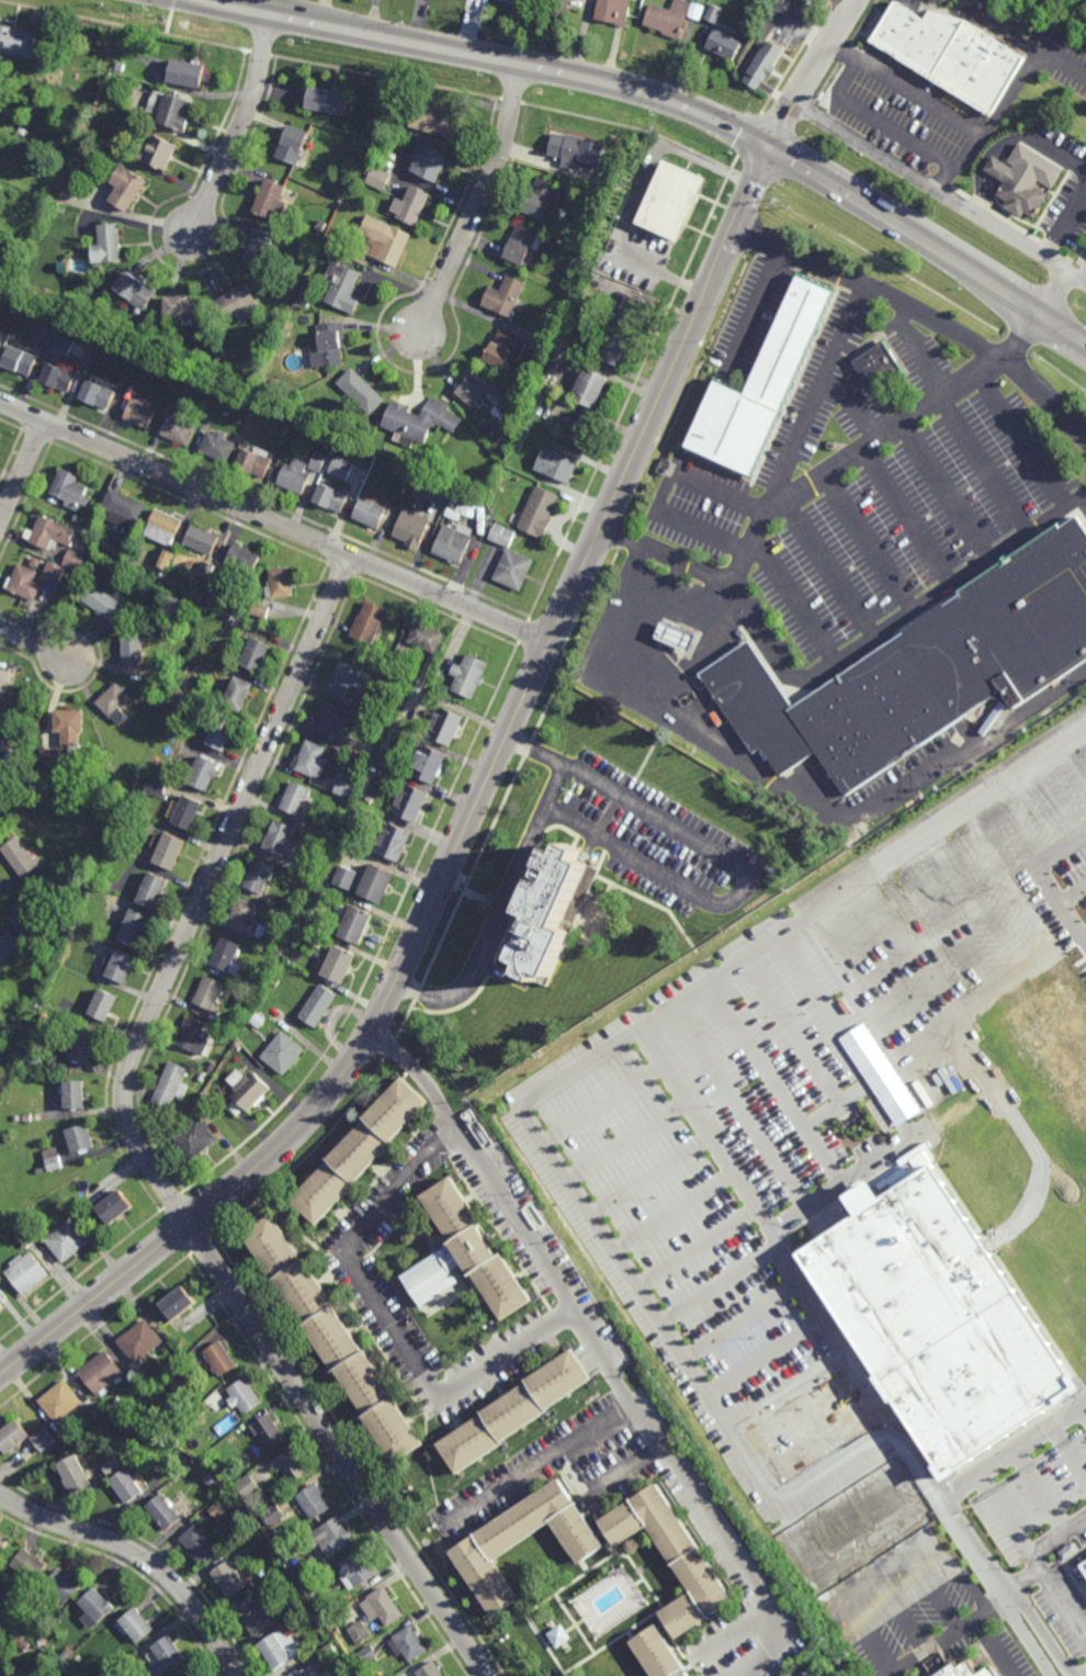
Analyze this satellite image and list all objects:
building: (1002, 0)
building: (518, 2)
building: (563, 5)
building: (612, 11)
building: (712, 13)
building: (669, 16)
building: (19, 42)
building: (724, 44)
road: (427, 46)
building: (953, 55)
road: (1039, 59)
building: (767, 65)
road: (1064, 68)
building: (186, 72)
road: (812, 72)
building: (328, 100)
road: (936, 110)
building: (174, 113)
building: (437, 120)
road: (719, 120)
road: (874, 123)
road: (239, 126)
road: (1013, 143)
building: (292, 144)
traffic signals: (771, 146)
building: (565, 147)
road: (1016, 153)
building: (160, 155)
building: (429, 160)
road: (1003, 171)
building: (377, 178)
road: (988, 190)
building: (1020, 190)
building: (128, 191)
road: (939, 195)
road: (477, 196)
road: (638, 196)
building: (541, 198)
building: (274, 201)
building: (676, 201)
building: (411, 204)
road: (721, 207)
road: (1066, 226)
road: (709, 237)
building: (385, 240)
road: (928, 243)
building: (523, 244)
building: (109, 246)
building: (260, 249)
road: (1084, 282)
building: (344, 285)
building: (137, 291)
building: (505, 296)
road: (1059, 296)
building: (239, 303)
building: (183, 310)
road: (756, 312)
building: (631, 313)
road: (921, 314)
parking lot: (749, 320)
building: (45, 334)
building: (333, 341)
building: (1, 345)
building: (63, 346)
road: (917, 349)
building: (505, 350)
building: (614, 350)
parking lot: (915, 353)
building: (21, 361)
building: (880, 369)
building: (59, 378)
building: (591, 389)
building: (362, 390)
building: (484, 390)
parking lot: (818, 390)
building: (761, 391)
building: (99, 395)
road: (816, 395)
road: (851, 405)
parking lot: (858, 410)
building: (142, 414)
building: (421, 419)
building: (579, 429)
building: (180, 431)
road: (1022, 435)
building: (219, 448)
building: (318, 461)
road: (980, 463)
building: (257, 464)
building: (557, 465)
building: (342, 468)
road: (21, 471)
road: (813, 476)
building: (296, 477)
road: (943, 487)
building: (71, 491)
road: (663, 493)
building: (333, 498)
parking lot: (698, 507)
building: (468, 508)
building: (125, 509)
road: (1075, 510)
building: (371, 514)
building: (540, 514)
road: (905, 514)
parking lot: (906, 519)
road: (1084, 521)
road: (273, 522)
building: (165, 528)
building: (414, 528)
building: (50, 533)
building: (502, 535)
road: (1032, 539)
road: (866, 540)
building: (204, 541)
building: (453, 543)
building: (167, 559)
building: (75, 560)
building: (246, 562)
road: (994, 565)
road: (826, 566)
building: (516, 571)
building: (54, 573)
building: (283, 583)
building: (25, 584)
road: (953, 593)
road: (789, 601)
building: (111, 605)
building: (261, 610)
road: (916, 617)
road: (890, 621)
building: (374, 622)
road: (655, 629)
building: (678, 637)
gas station: (678, 637)
road: (904, 638)
building: (427, 640)
road: (35, 642)
road: (874, 645)
building: (134, 650)
road: (702, 653)
building: (257, 656)
road: (724, 660)
road: (840, 667)
building: (925, 673)
road: (698, 675)
building: (470, 676)
building: (349, 680)
building: (4, 685)
building: (242, 697)
building: (117, 704)
road: (519, 709)
building: (331, 719)
building: (446, 725)
building: (0, 727)
road: (663, 727)
building: (71, 728)
building: (226, 732)
building: (3, 746)
road: (647, 757)
building: (50, 758)
building: (314, 762)
building: (430, 766)
road: (907, 772)
building: (207, 777)
building: (156, 786)
building: (347, 786)
road: (780, 787)
building: (296, 802)
building: (414, 806)
road: (612, 813)
building: (189, 815)
building: (281, 841)
building: (397, 845)
road: (1061, 850)
building: (172, 854)
building: (21, 858)
road: (600, 865)
road: (1034, 866)
building: (261, 877)
building: (346, 877)
road: (512, 884)
building: (380, 886)
road: (745, 887)
road: (205, 890)
building: (155, 892)
building: (30, 906)
road: (659, 907)
building: (553, 912)
building: (248, 922)
building: (360, 926)
building: (137, 930)
road: (1084, 938)
building: (9, 947)
building: (227, 958)
building: (341, 966)
building: (122, 968)
building: (208, 993)
building: (104, 1006)
building: (319, 1008)
road: (793, 1027)
road: (635, 1032)
road: (847, 1037)
building: (193, 1038)
building: (83, 1048)
building: (283, 1054)
road: (779, 1082)
building: (171, 1088)
building: (248, 1094)
building: (76, 1096)
road: (842, 1105)
road: (744, 1106)
parking lot: (814, 1113)
building: (81, 1137)
building: (196, 1138)
building: (360, 1150)
building: (53, 1159)
road: (846, 1193)
building: (117, 1207)
building: (68, 1241)
building: (465, 1257)
building: (27, 1272)
road: (722, 1293)
road: (95, 1297)
building: (180, 1300)
building: (1, 1305)
building: (930, 1320)
road: (391, 1321)
road: (665, 1331)
road: (748, 1334)
building: (336, 1339)
building: (183, 1340)
building: (143, 1342)
road: (599, 1349)
building: (156, 1357)
building: (220, 1357)
building: (102, 1371)
building: (143, 1373)
road: (779, 1377)
building: (182, 1379)
road: (1073, 1390)
building: (245, 1394)
building: (61, 1399)
building: (118, 1399)
building: (214, 1401)
building: (516, 1411)
road: (1078, 1417)
road: (805, 1418)
building: (268, 1428)
building: (13, 1433)
building: (44, 1437)
building: (168, 1443)
road: (1013, 1447)
road: (339, 1448)
road: (836, 1462)
building: (291, 1463)
building: (113, 1464)
road: (544, 1465)
road: (626, 1471)
building: (76, 1473)
building: (127, 1484)
building: (249, 1485)
building: (314, 1499)
road: (863, 1505)
building: (220, 1508)
building: (166, 1510)
building: (193, 1514)
building: (274, 1515)
building: (332, 1536)
road: (884, 1538)
building: (3, 1542)
building: (670, 1543)
building: (202, 1544)
building: (1079, 1546)
road: (1041, 1548)
building: (478, 1553)
road: (142, 1555)
building: (30, 1564)
building: (358, 1570)
building: (293, 1574)
building: (231, 1578)
building: (64, 1585)
building: (256, 1585)
road: (1008, 1585)
road: (992, 1588)
building: (313, 1589)
building: (99, 1605)
road: (996, 1606)
building: (383, 1607)
building: (256, 1616)
building: (685, 1616)
building: (316, 1617)
building: (338, 1623)
building: (136, 1624)
road: (964, 1628)
building: (338, 1631)
building: (361, 1632)
building: (559, 1636)
building: (42, 1642)
building: (22, 1643)
building: (409, 1643)
building: (281, 1651)
building: (170, 1652)
building: (328, 1652)
building: (659, 1654)
building: (65, 1655)
building: (367, 1655)
building: (431, 1669)
building: (315, 1671)
building: (959, 1671)
building: (7, 1673)
building: (193, 1674)

